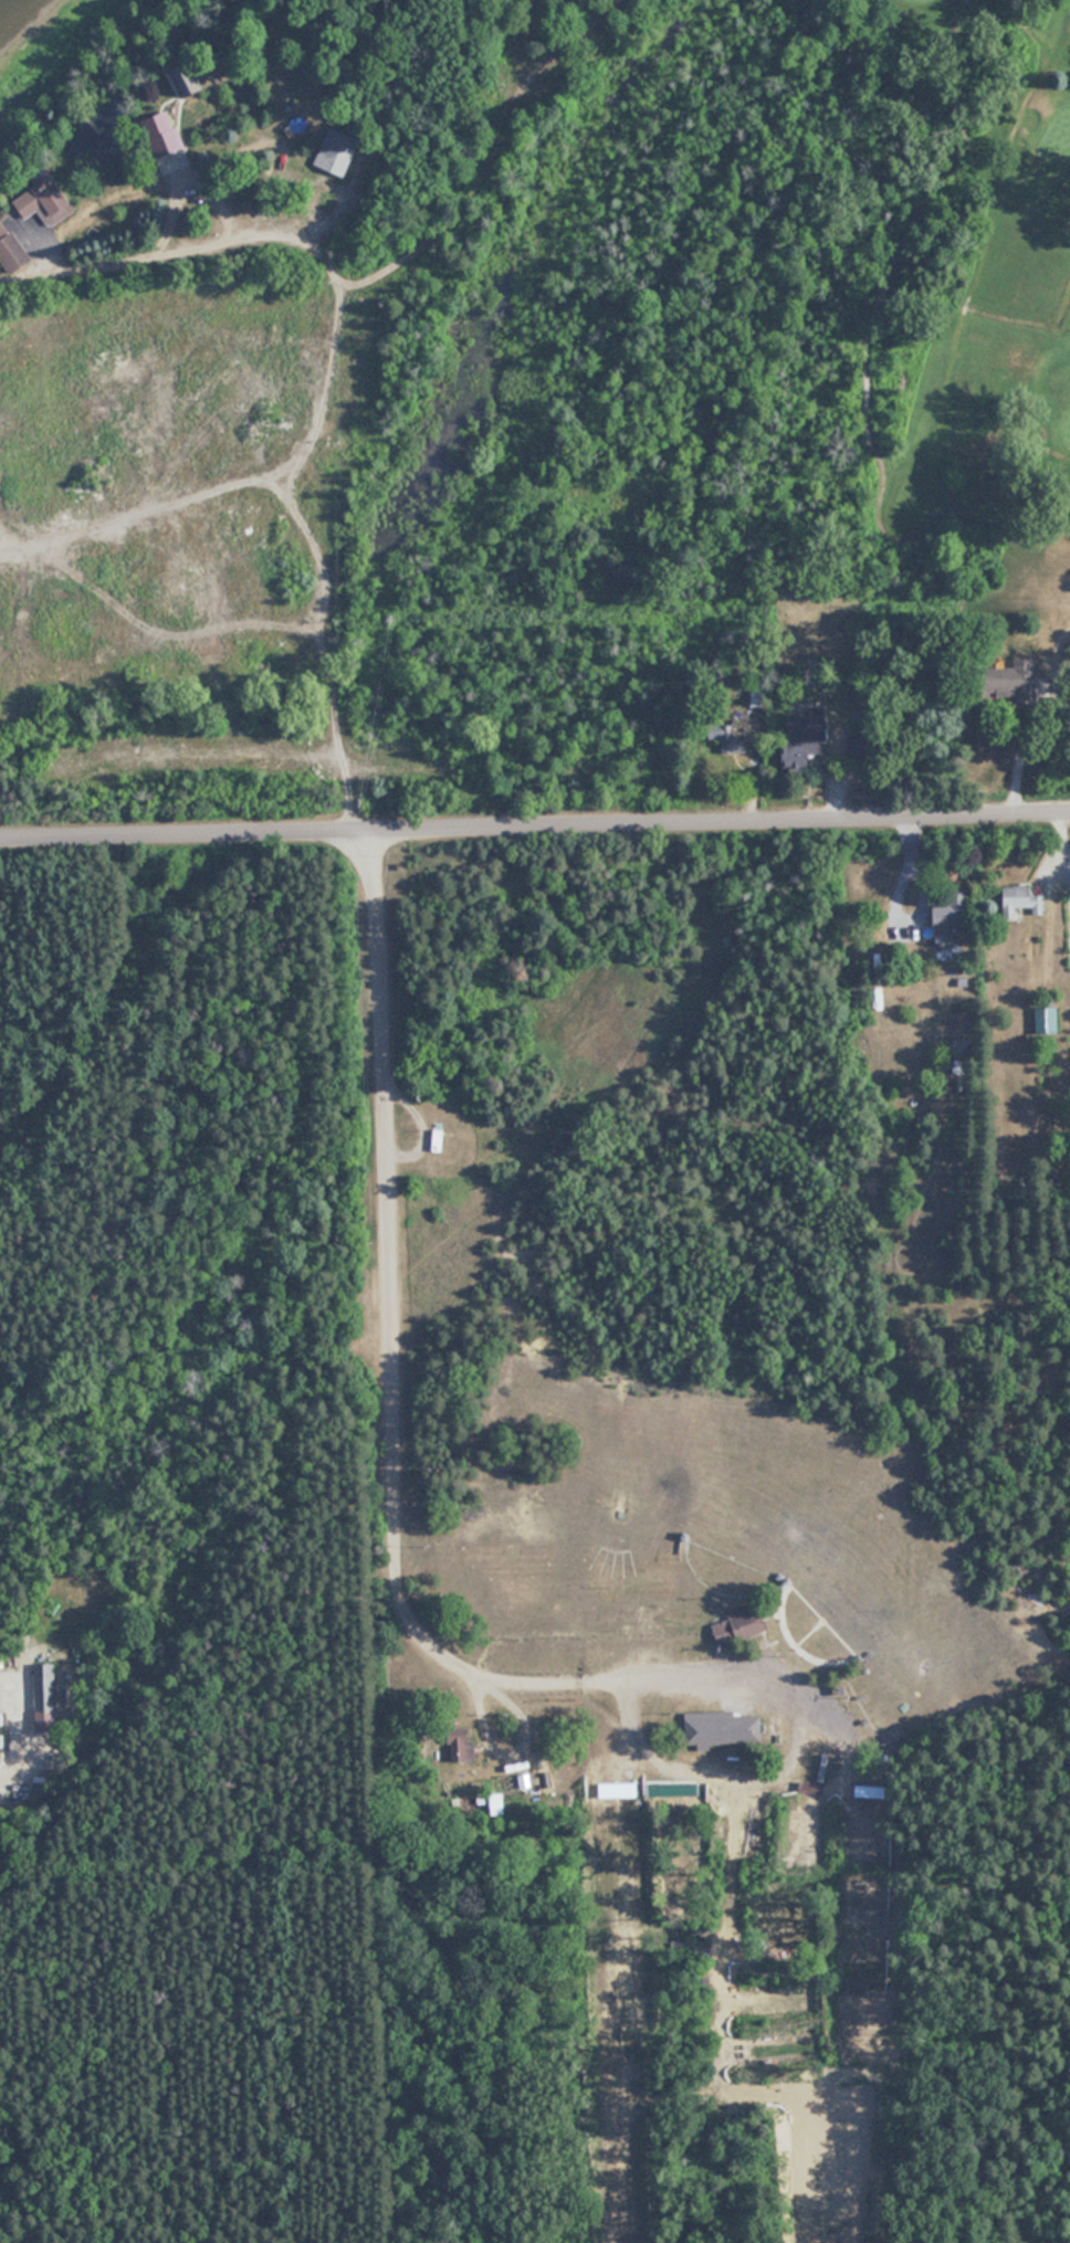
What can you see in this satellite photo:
building: (165, 134)
building: (335, 159)
building: (46, 201)
building: (12, 251)
park: (955, 308)
road: (323, 387)
road: (164, 508)
road: (23, 551)
road: (168, 632)
building: (1020, 676)
road: (1026, 718)
building: (731, 734)
building: (804, 738)
road: (535, 828)
building: (1022, 898)
building: (951, 913)
road: (95, 919)
road: (33, 926)
building: (1047, 1019)
road: (188, 1138)
building: (439, 1140)
parking lot: (369, 1277)
road: (155, 1320)
road: (263, 1336)
road: (387, 1337)
park: (427, 1541)
building: (739, 1625)
road: (150, 1630)
road: (370, 1636)
road: (788, 1689)
building: (43, 1692)
building: (718, 1714)
road: (209, 1873)
road: (370, 2055)
road: (48, 2061)

